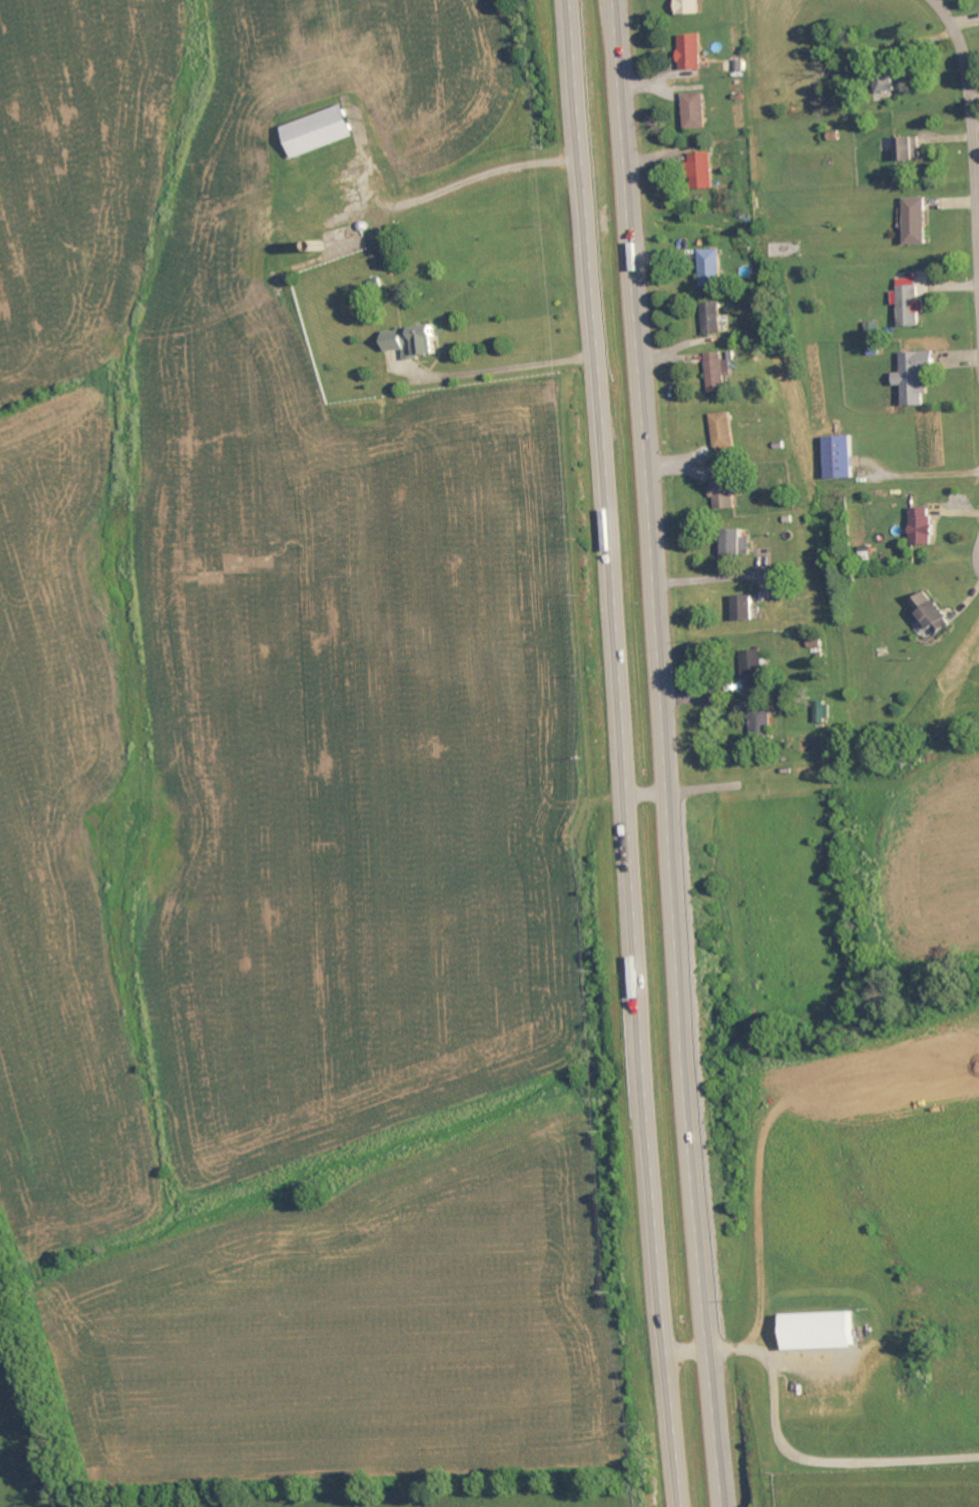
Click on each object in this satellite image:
building: (691, 7)
building: (694, 53)
building: (891, 85)
road: (972, 106)
building: (698, 112)
building: (323, 132)
building: (911, 150)
building: (704, 172)
road: (480, 177)
building: (919, 222)
building: (711, 268)
building: (911, 303)
building: (713, 319)
building: (417, 342)
road: (508, 369)
building: (721, 373)
building: (918, 377)
building: (727, 432)
building: (843, 459)
building: (727, 492)
building: (925, 527)
building: (740, 545)
building: (749, 609)
building: (936, 615)
building: (756, 672)
building: (824, 714)
building: (763, 722)
road: (626, 753)
road: (668, 753)
building: (825, 1332)
road: (787, 1452)

